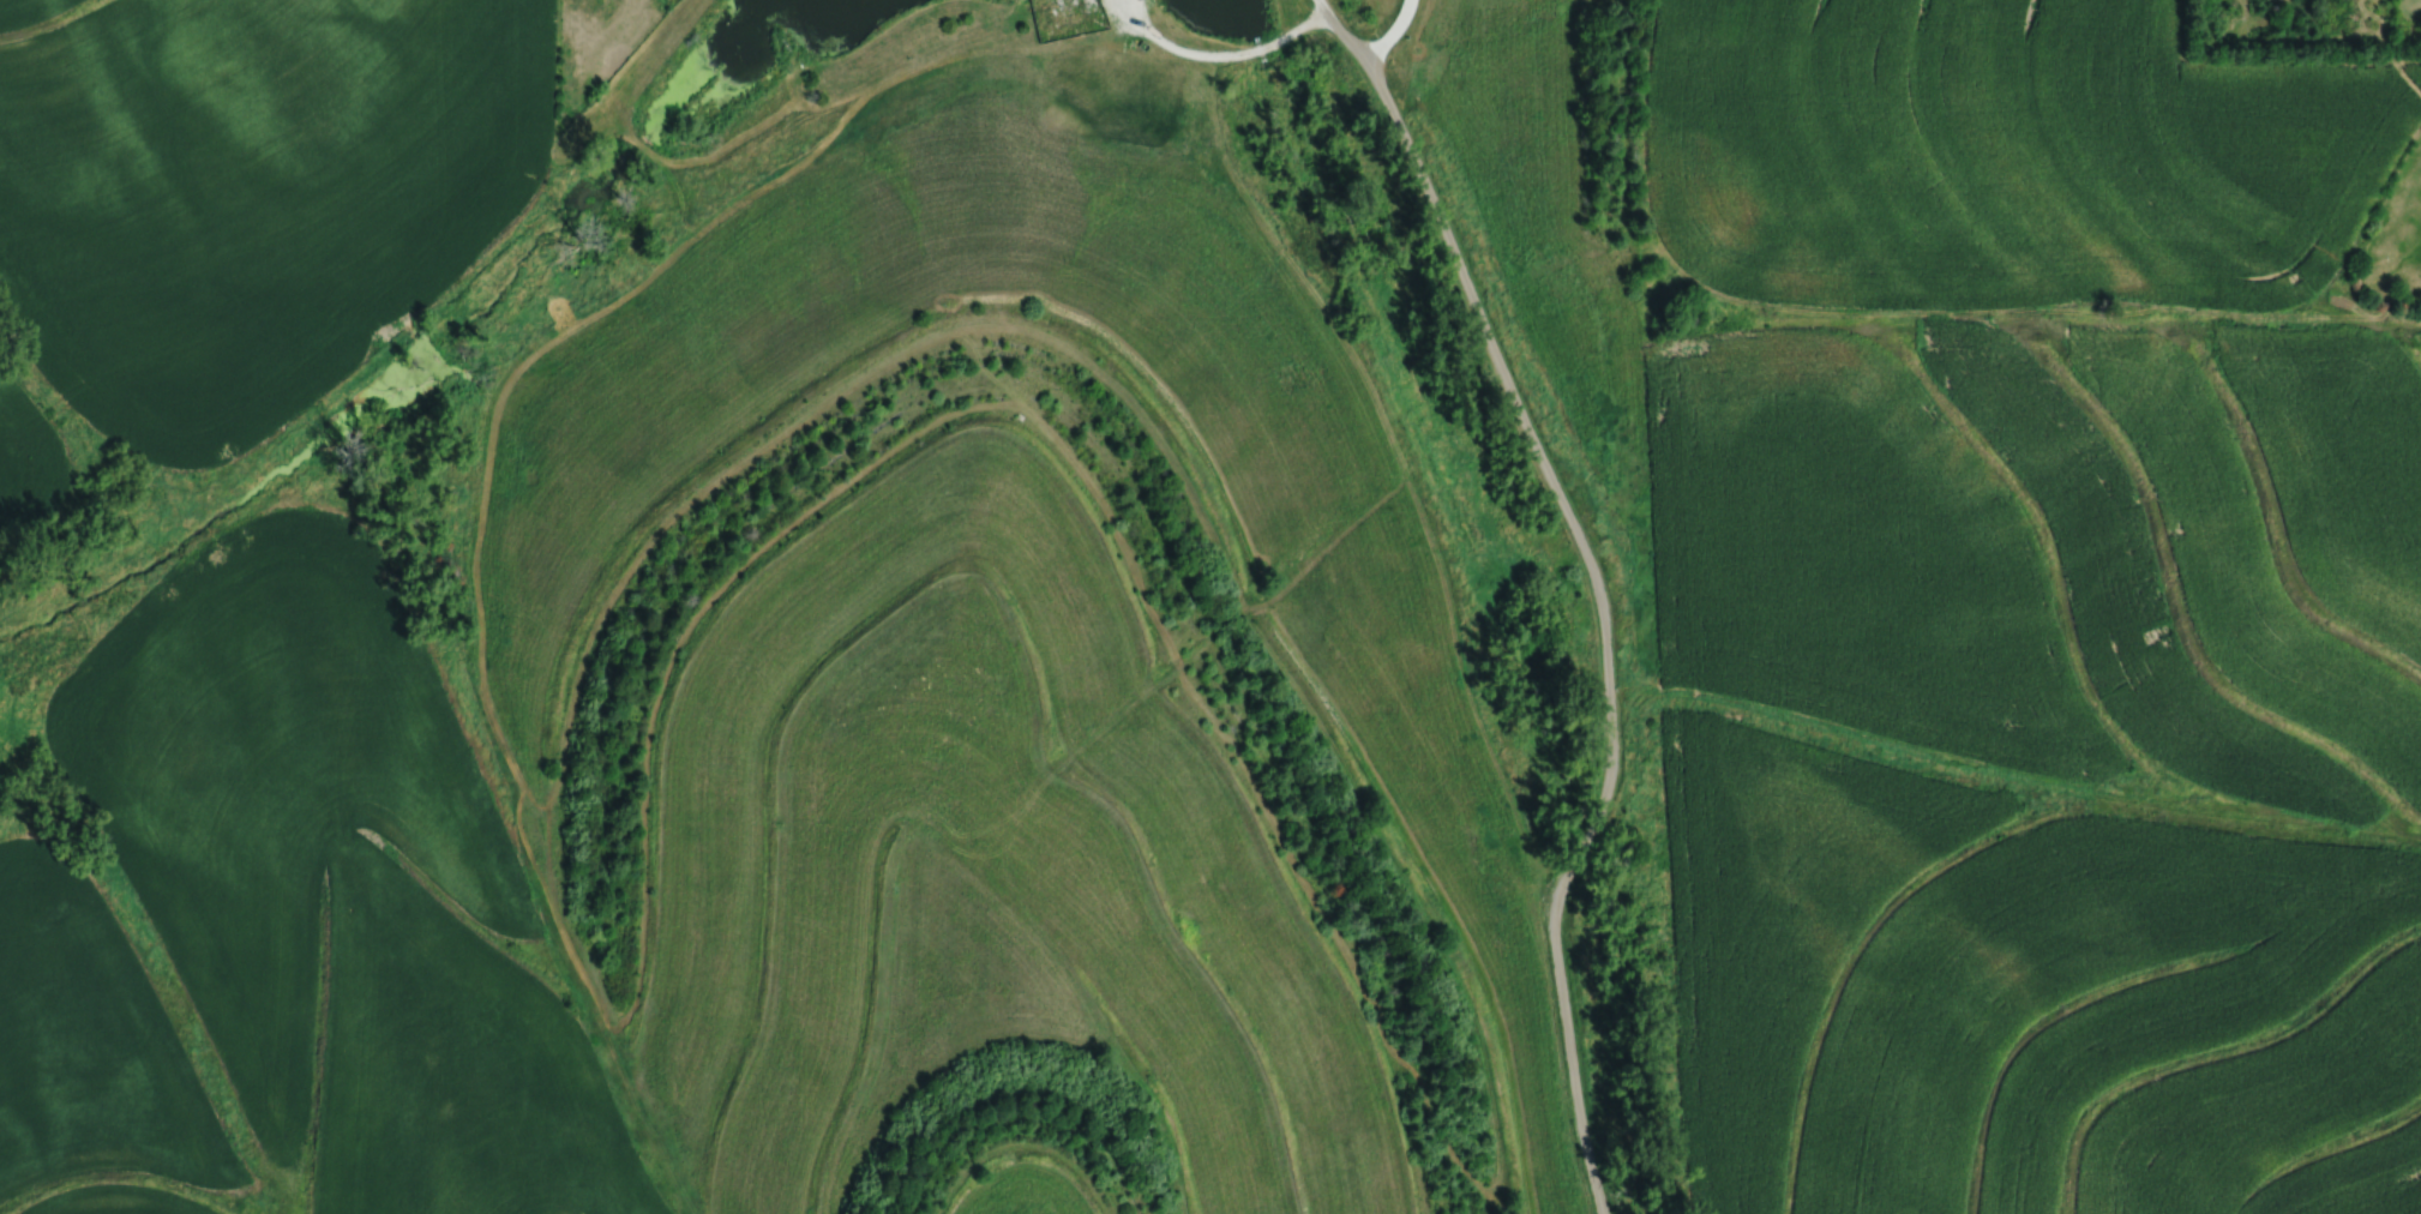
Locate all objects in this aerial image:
road: (1322, 7)
road: (1392, 35)
road: (1345, 38)
road: (1218, 58)
road: (1603, 620)

